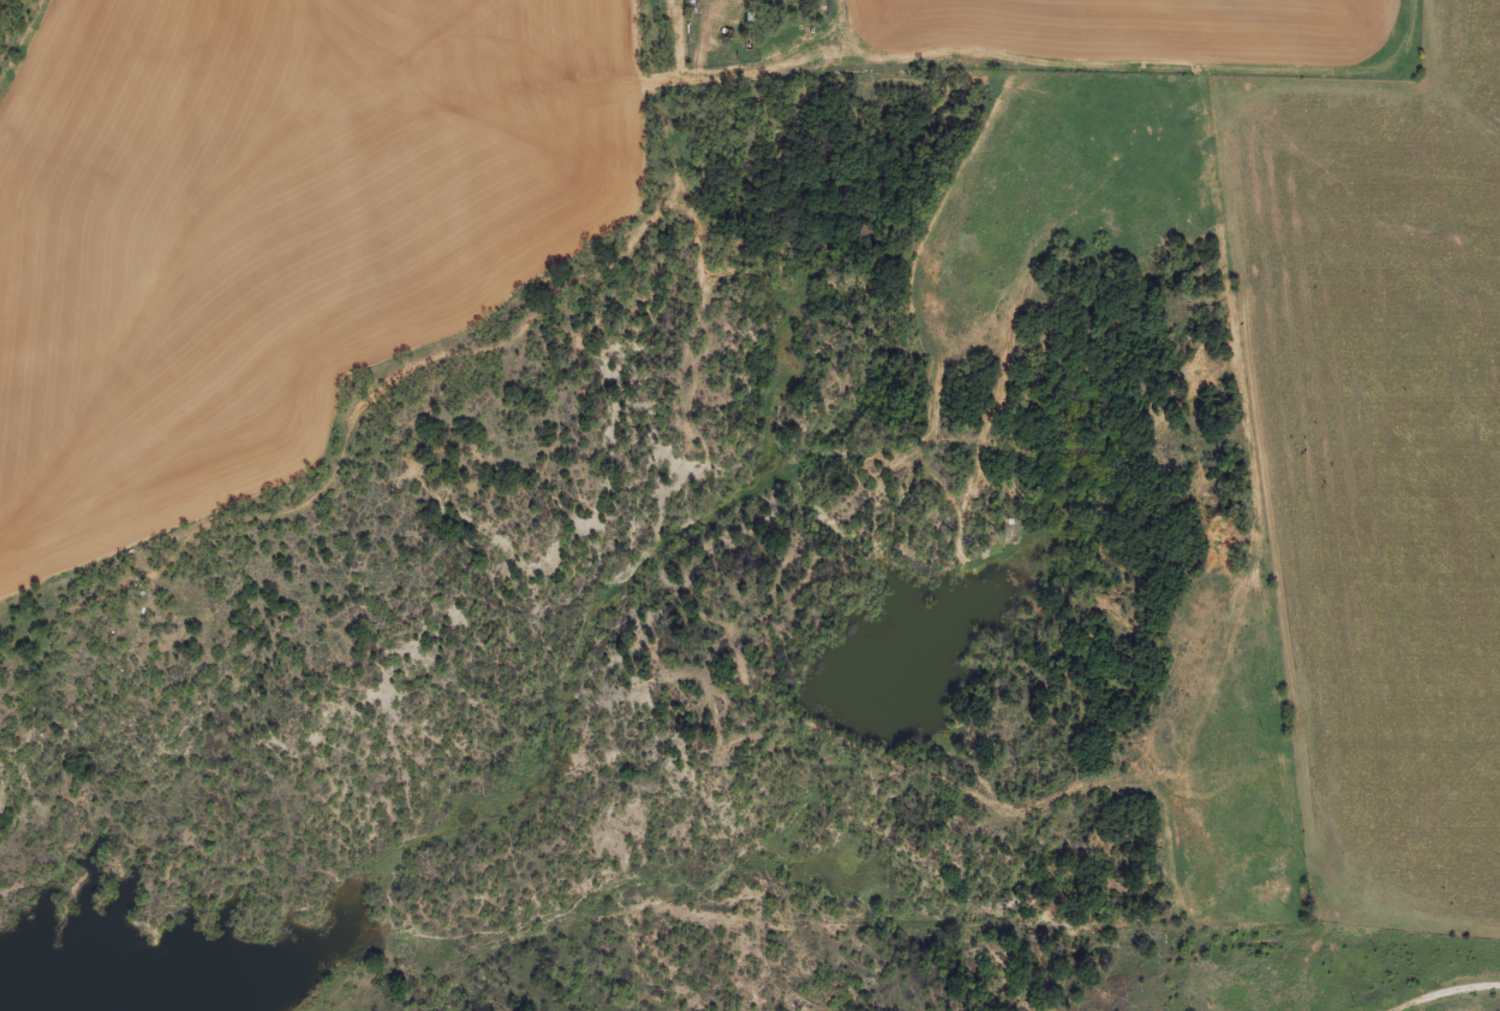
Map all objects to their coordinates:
road: (1127, 69)
road: (1254, 541)

